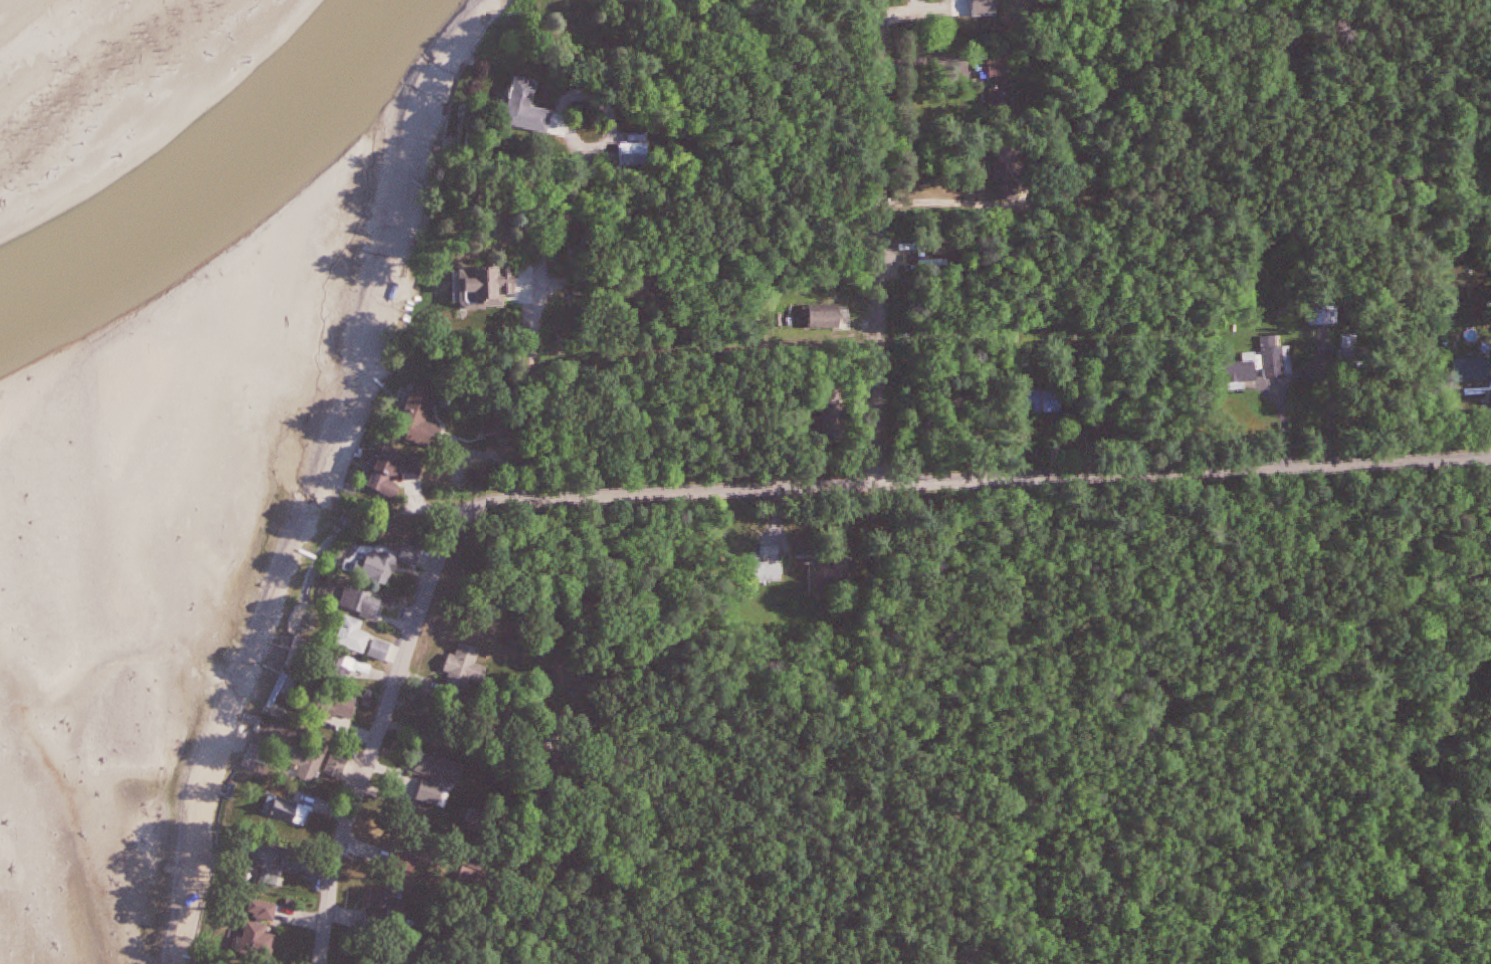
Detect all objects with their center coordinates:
building: (1002, 72)
building: (1004, 100)
building: (525, 104)
building: (1011, 172)
river: (219, 186)
road: (937, 203)
road: (883, 242)
building: (491, 286)
building: (1318, 317)
building: (830, 319)
road: (533, 329)
building: (1273, 361)
building: (1469, 372)
building: (1233, 373)
building: (421, 414)
building: (399, 470)
road: (976, 481)
building: (390, 564)
building: (777, 573)
building: (830, 577)
building: (363, 601)
building: (355, 635)
building: (465, 662)
road: (375, 734)
building: (338, 764)
building: (309, 766)
building: (439, 778)
road: (1210, 786)
building: (288, 811)
building: (279, 856)
building: (396, 905)
building: (260, 934)

